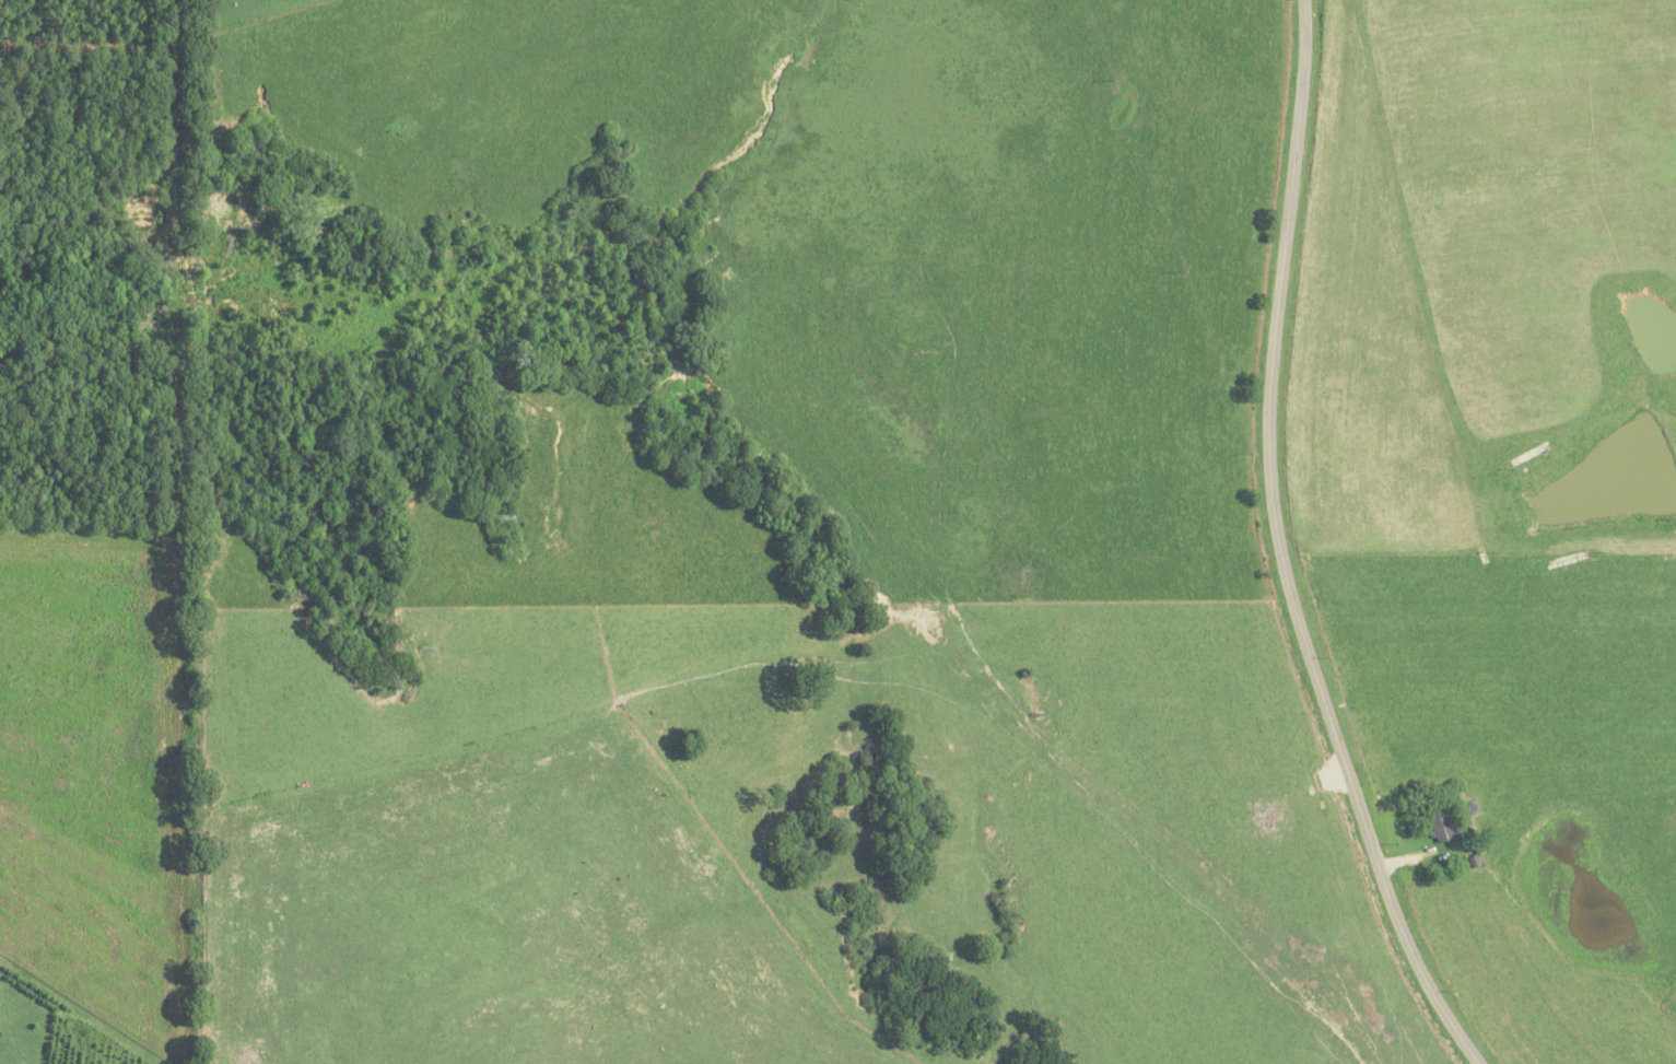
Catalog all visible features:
road: (1280, 550)
building: (1439, 826)

